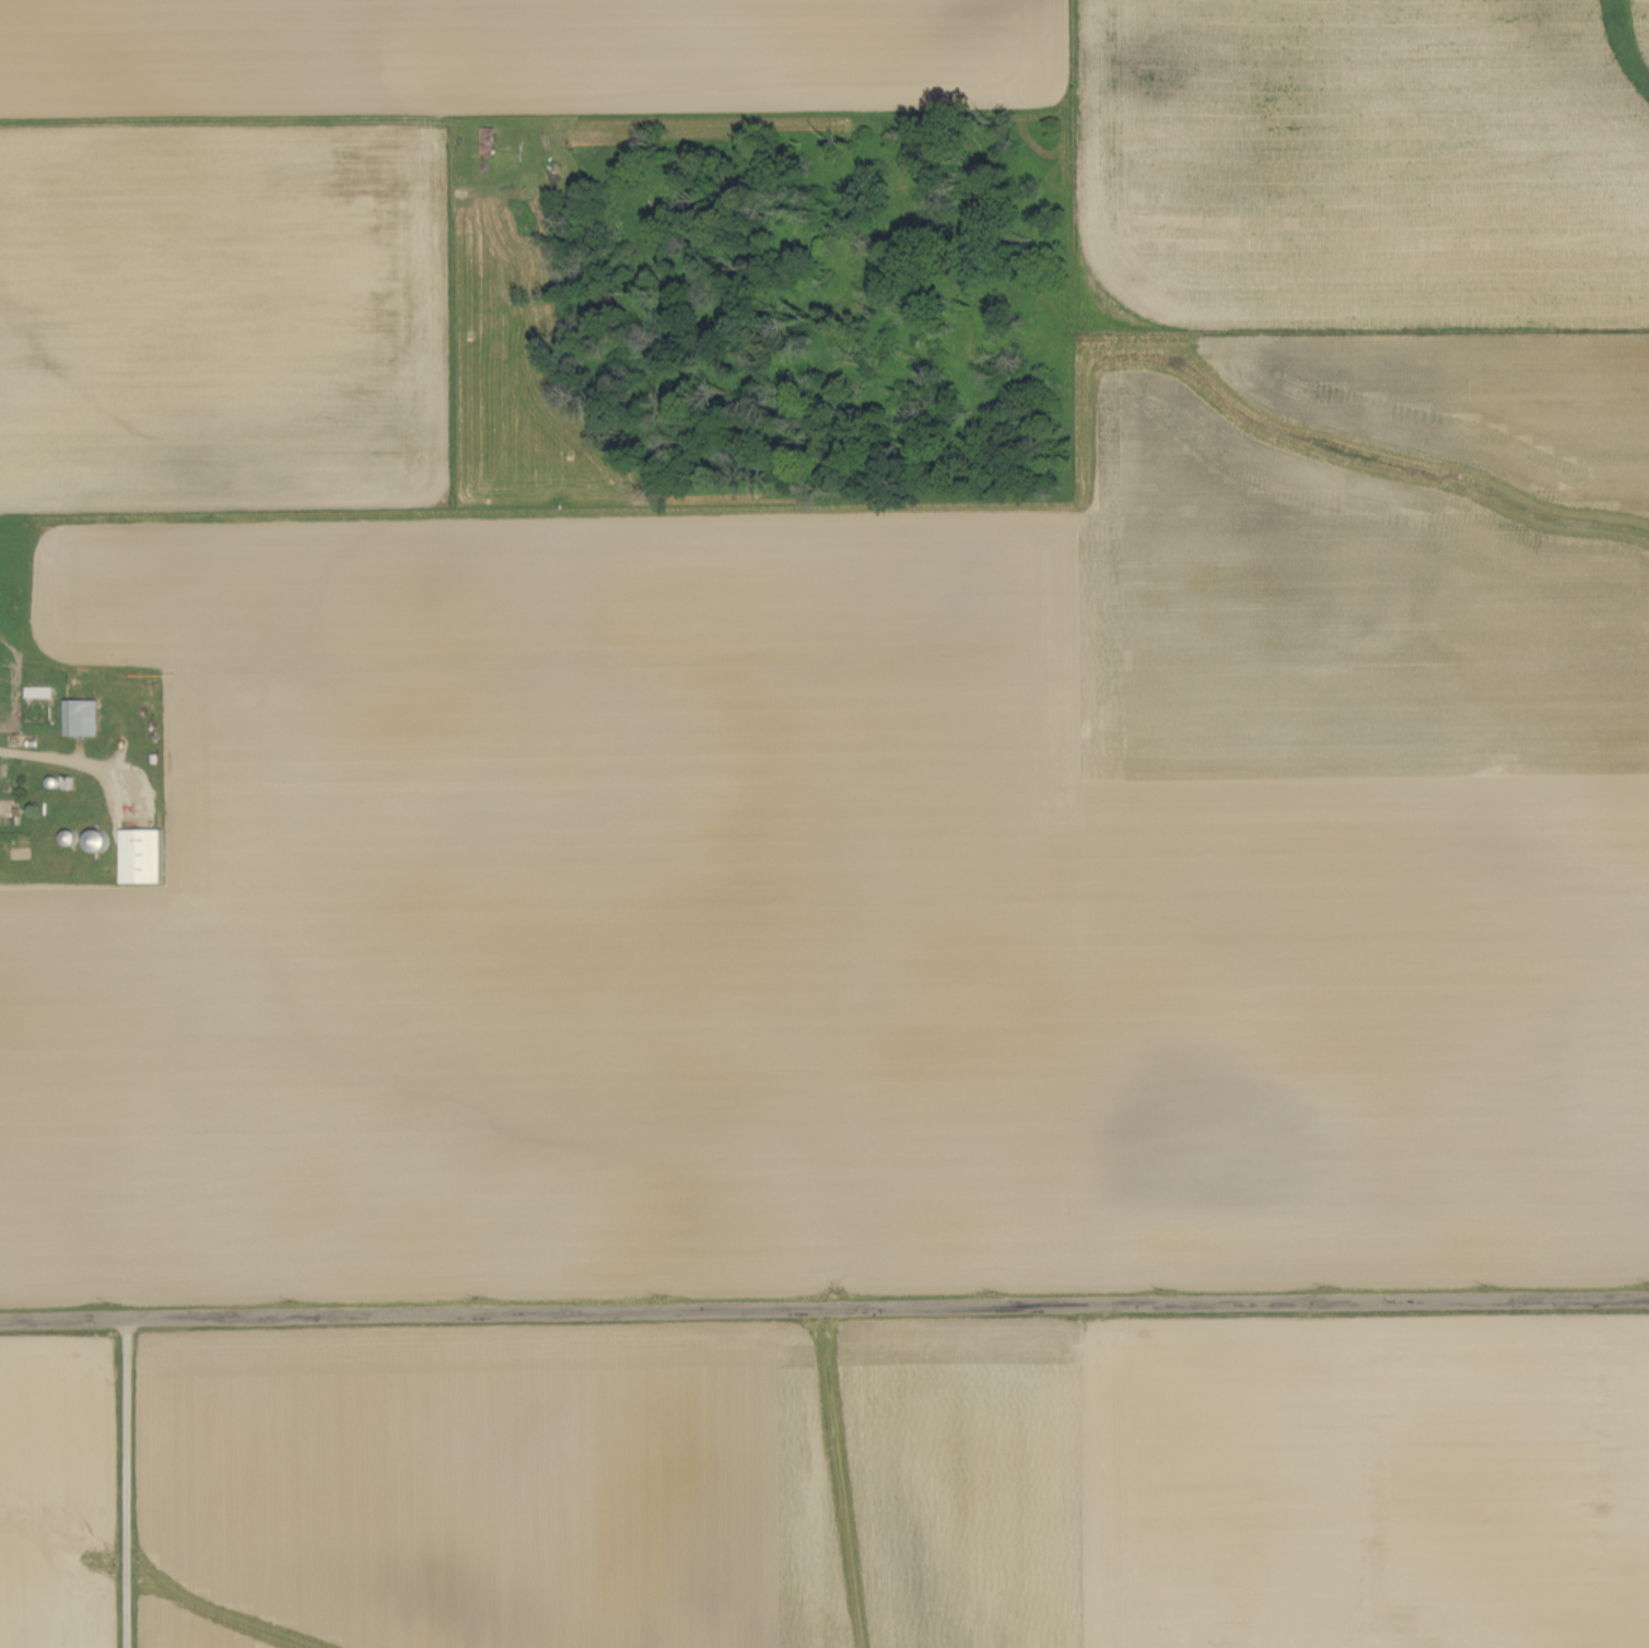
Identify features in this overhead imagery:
building: (42, 692)
building: (84, 718)
road: (66, 765)
building: (145, 856)
road: (823, 1319)
road: (122, 1489)

